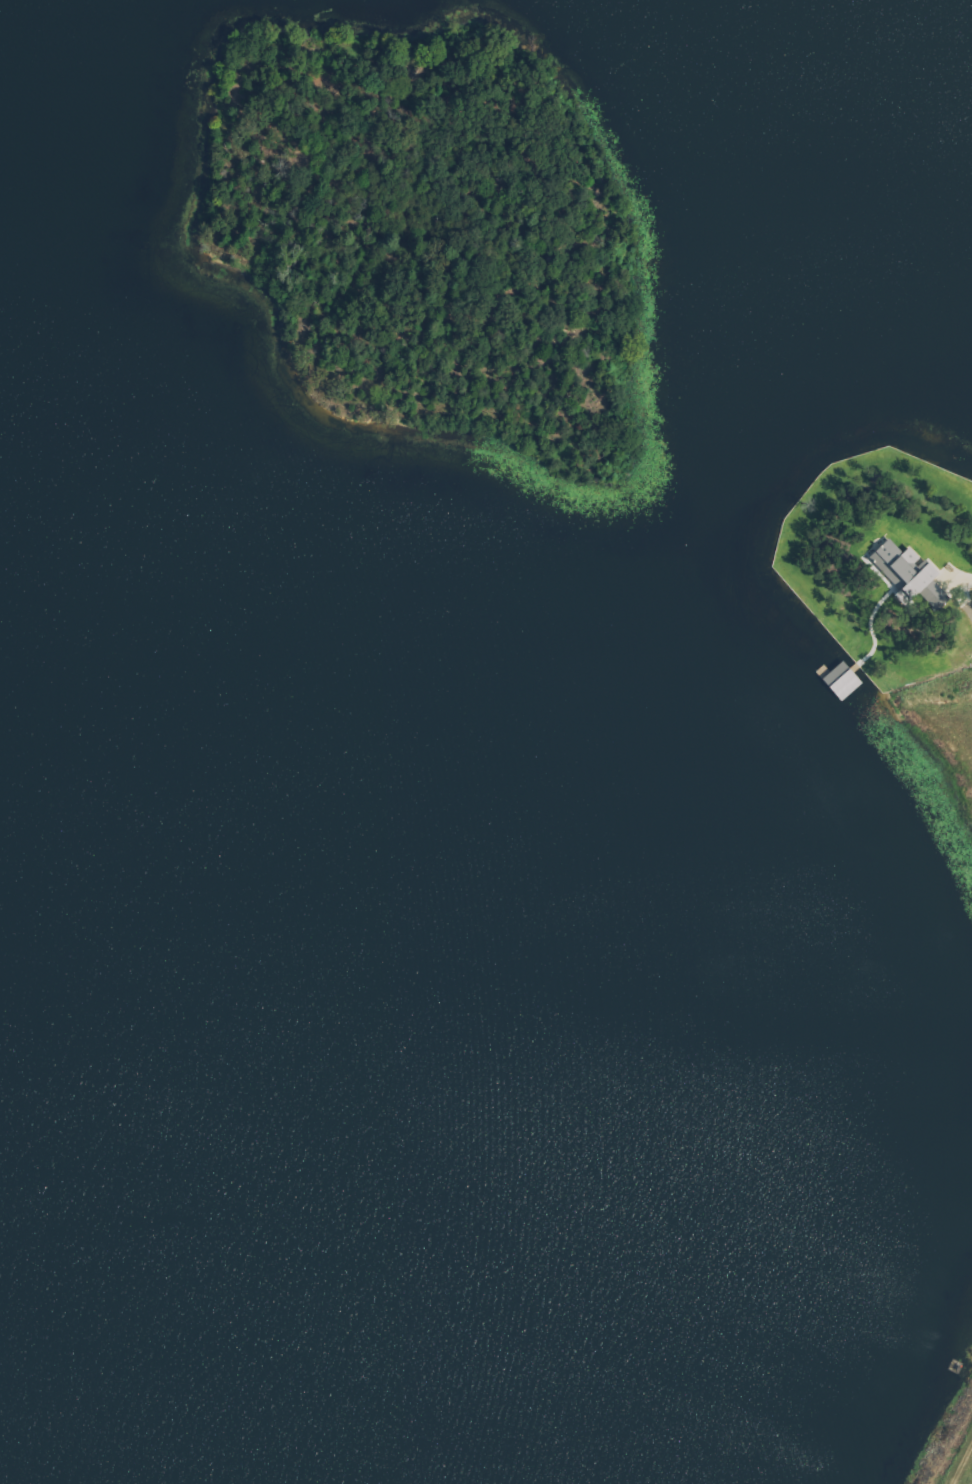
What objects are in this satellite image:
building: (903, 574)
building: (838, 681)
dam: (967, 1475)

